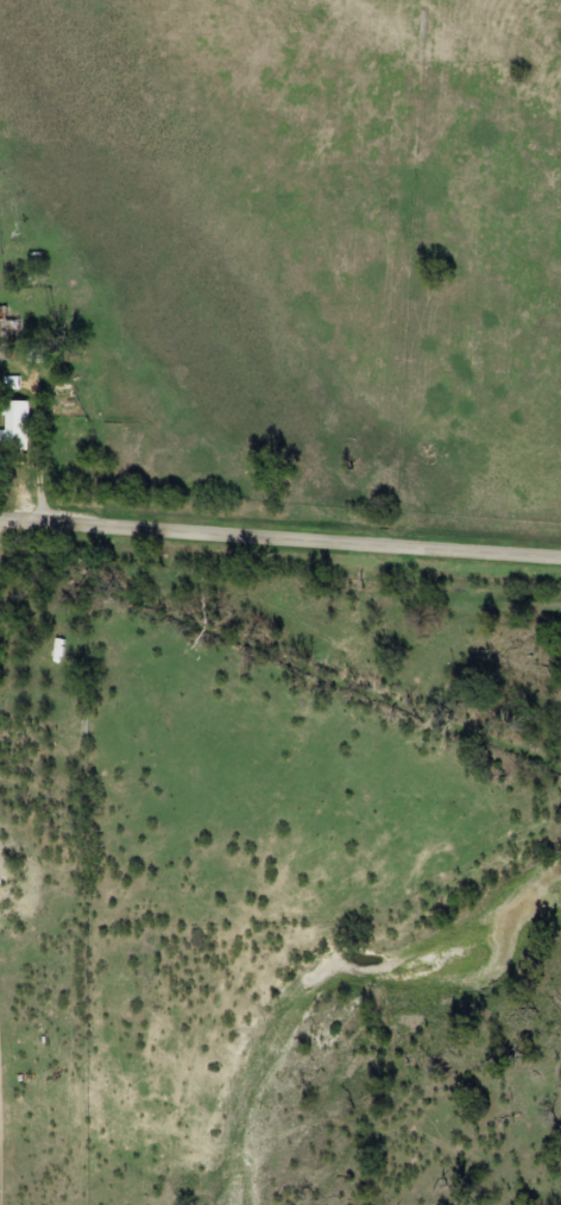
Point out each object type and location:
building: (12, 328)
building: (17, 424)
road: (279, 538)

